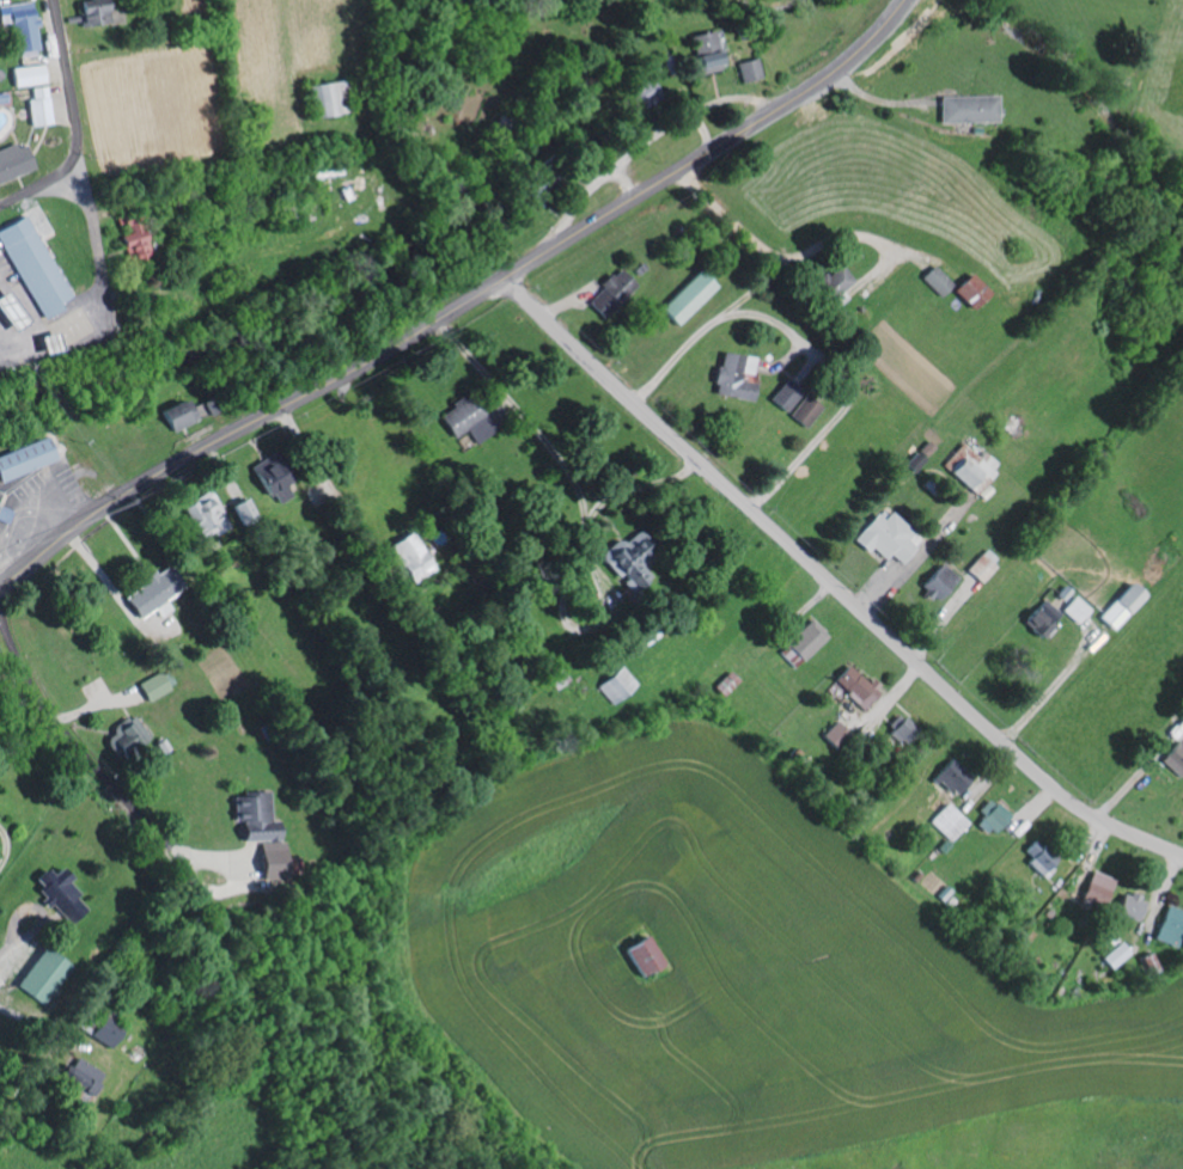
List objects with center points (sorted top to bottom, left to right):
building: (93, 12)
building: (24, 29)
building: (705, 51)
building: (749, 69)
building: (29, 75)
building: (328, 98)
building: (39, 106)
building: (968, 109)
road: (77, 124)
building: (14, 161)
building: (533, 192)
road: (69, 229)
building: (133, 239)
building: (33, 265)
building: (934, 280)
building: (834, 283)
building: (968, 290)
building: (610, 292)
building: (687, 298)
road: (458, 304)
building: (8, 311)
building: (733, 375)
building: (785, 394)
building: (804, 410)
building: (184, 412)
building: (465, 418)
building: (24, 457)
building: (972, 467)
building: (274, 484)
building: (202, 515)
building: (886, 537)
building: (413, 557)
building: (627, 561)
building: (982, 565)
road: (833, 581)
building: (937, 582)
building: (152, 593)
building: (1121, 606)
building: (1074, 608)
building: (1042, 618)
building: (803, 643)
building: (616, 684)
building: (157, 685)
building: (855, 686)
building: (902, 732)
building: (129, 734)
building: (836, 736)
road: (81, 749)
building: (1173, 758)
building: (952, 777)
building: (992, 816)
building: (254, 818)
building: (947, 822)
building: (1037, 857)
building: (273, 859)
building: (1097, 889)
building: (59, 893)
building: (1129, 906)
building: (1170, 926)
building: (1116, 955)
building: (639, 956)
building: (1150, 963)
building: (42, 975)
road: (16, 1015)
building: (103, 1032)
building: (78, 1079)

